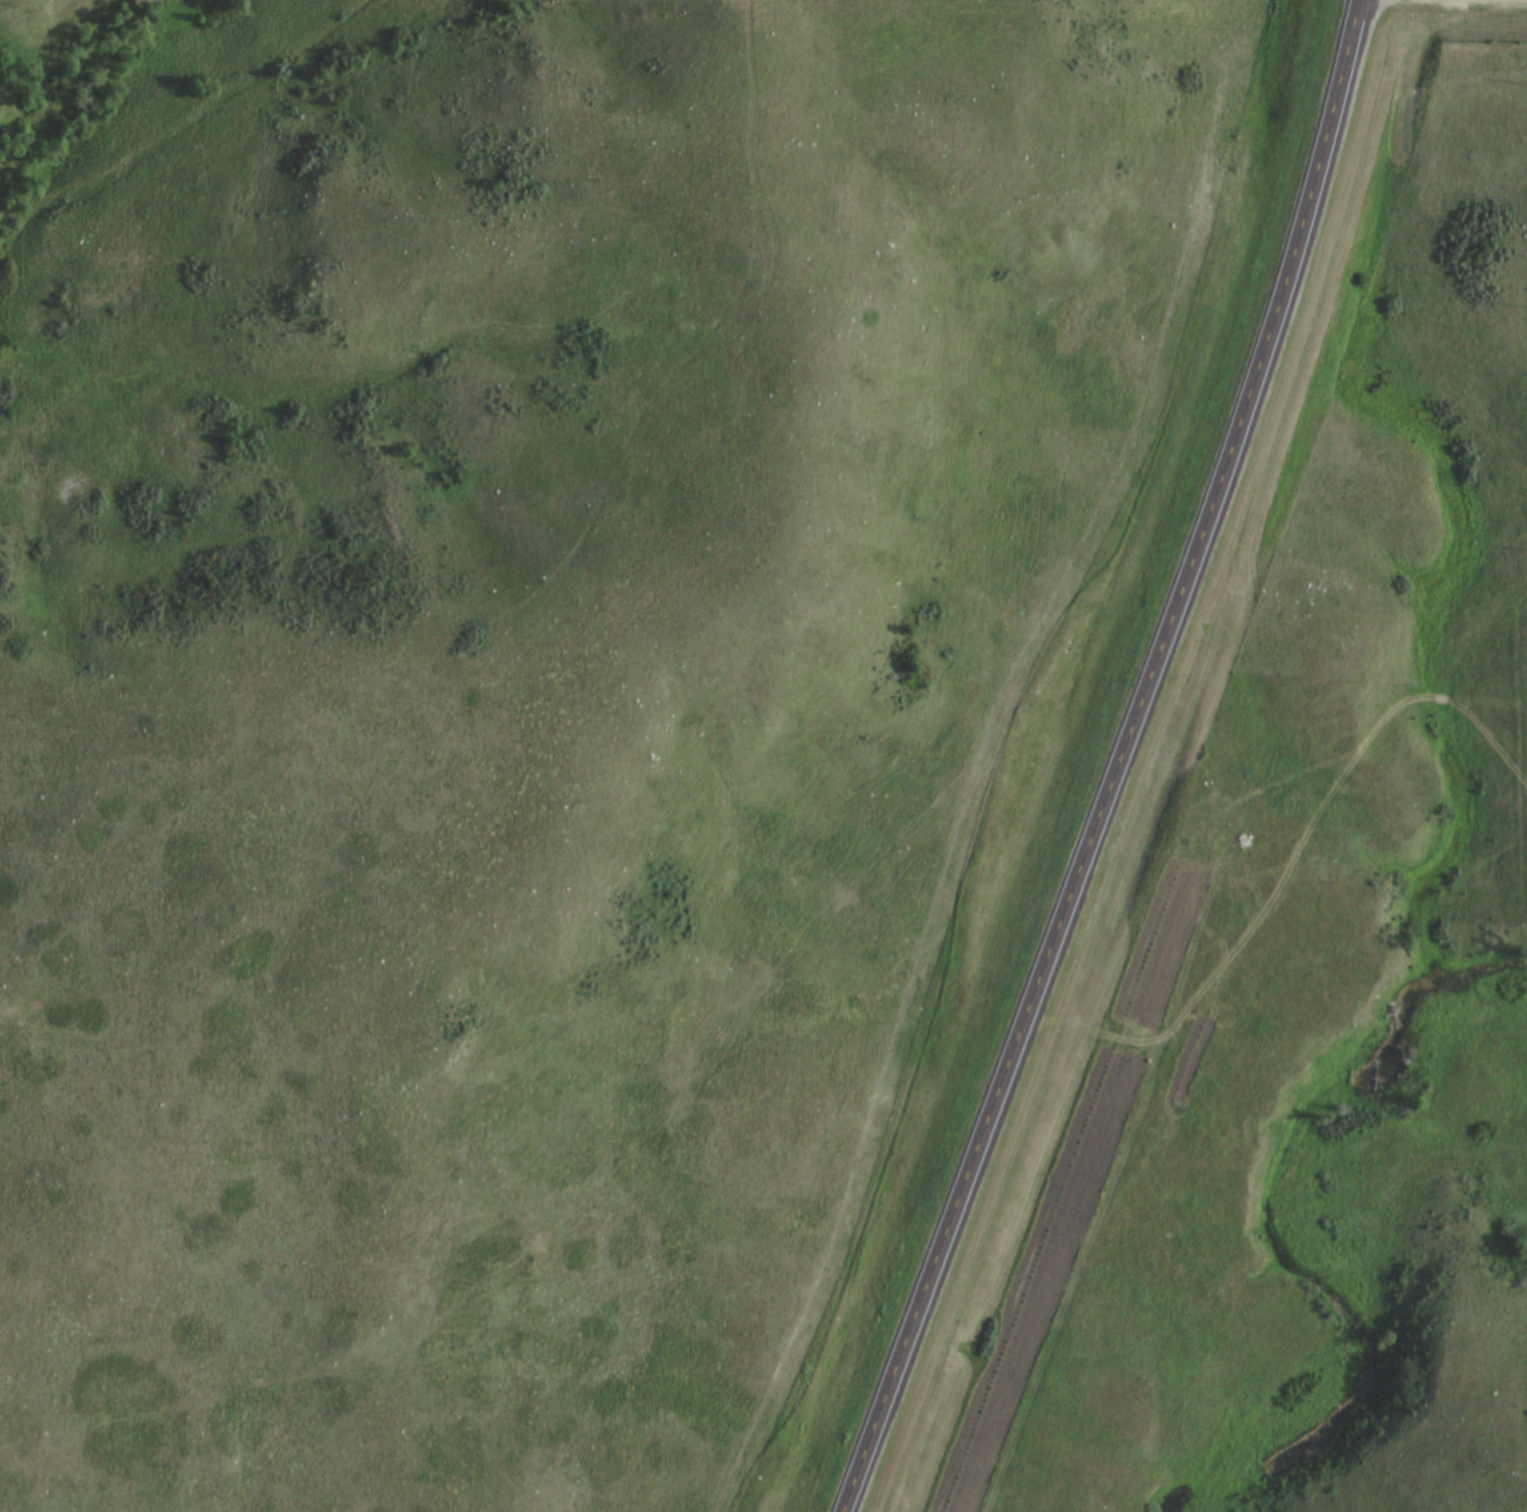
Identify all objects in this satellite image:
road: (1124, 761)

